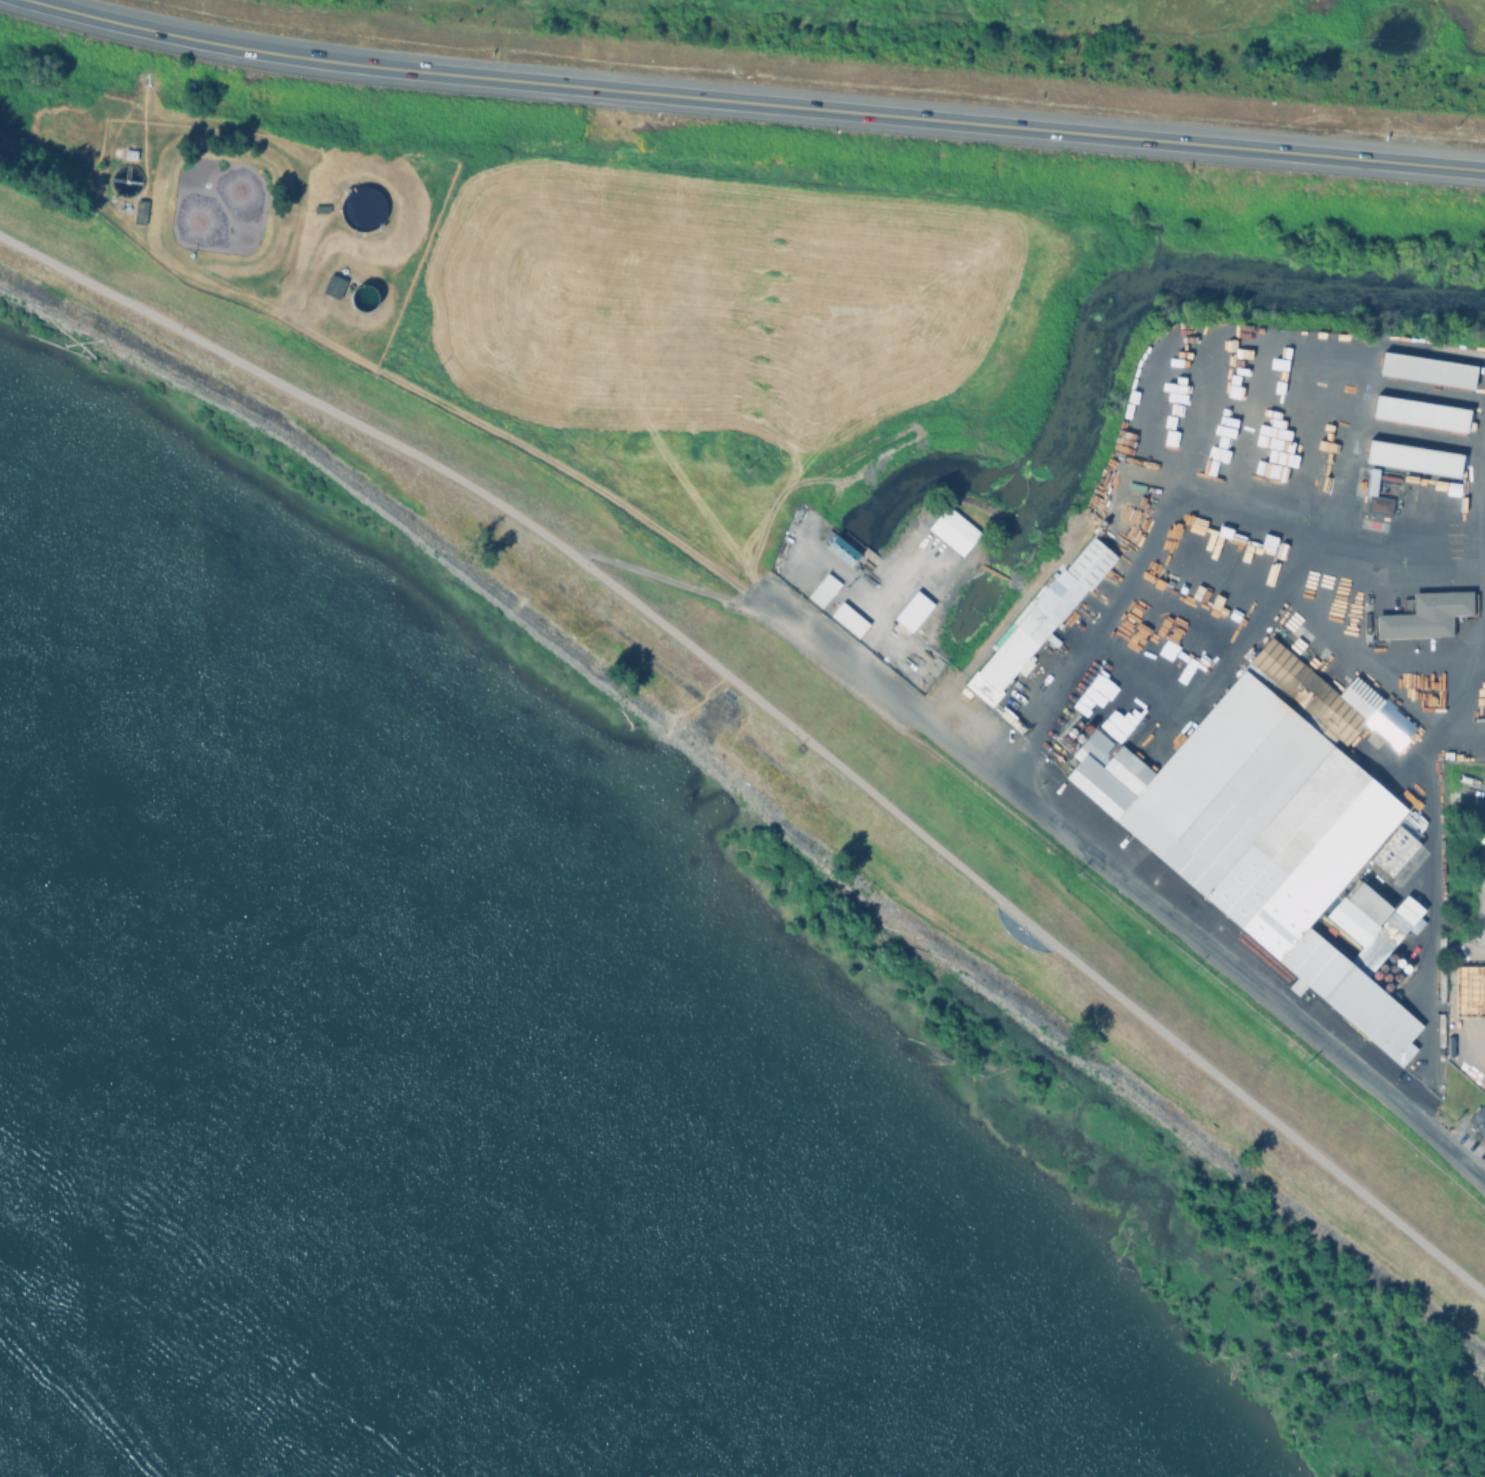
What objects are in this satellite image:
road: (753, 104)
building: (129, 151)
building: (320, 206)
building: (139, 209)
road: (1170, 498)
building: (955, 533)
building: (843, 552)
building: (1093, 565)
road: (660, 577)
building: (824, 591)
building: (1062, 597)
building: (1424, 615)
building: (849, 620)
building: (1018, 648)
building: (984, 690)
road: (775, 715)
building: (1282, 830)
road: (1431, 862)
road: (1126, 884)
road: (1478, 961)
park: (1065, 1031)

